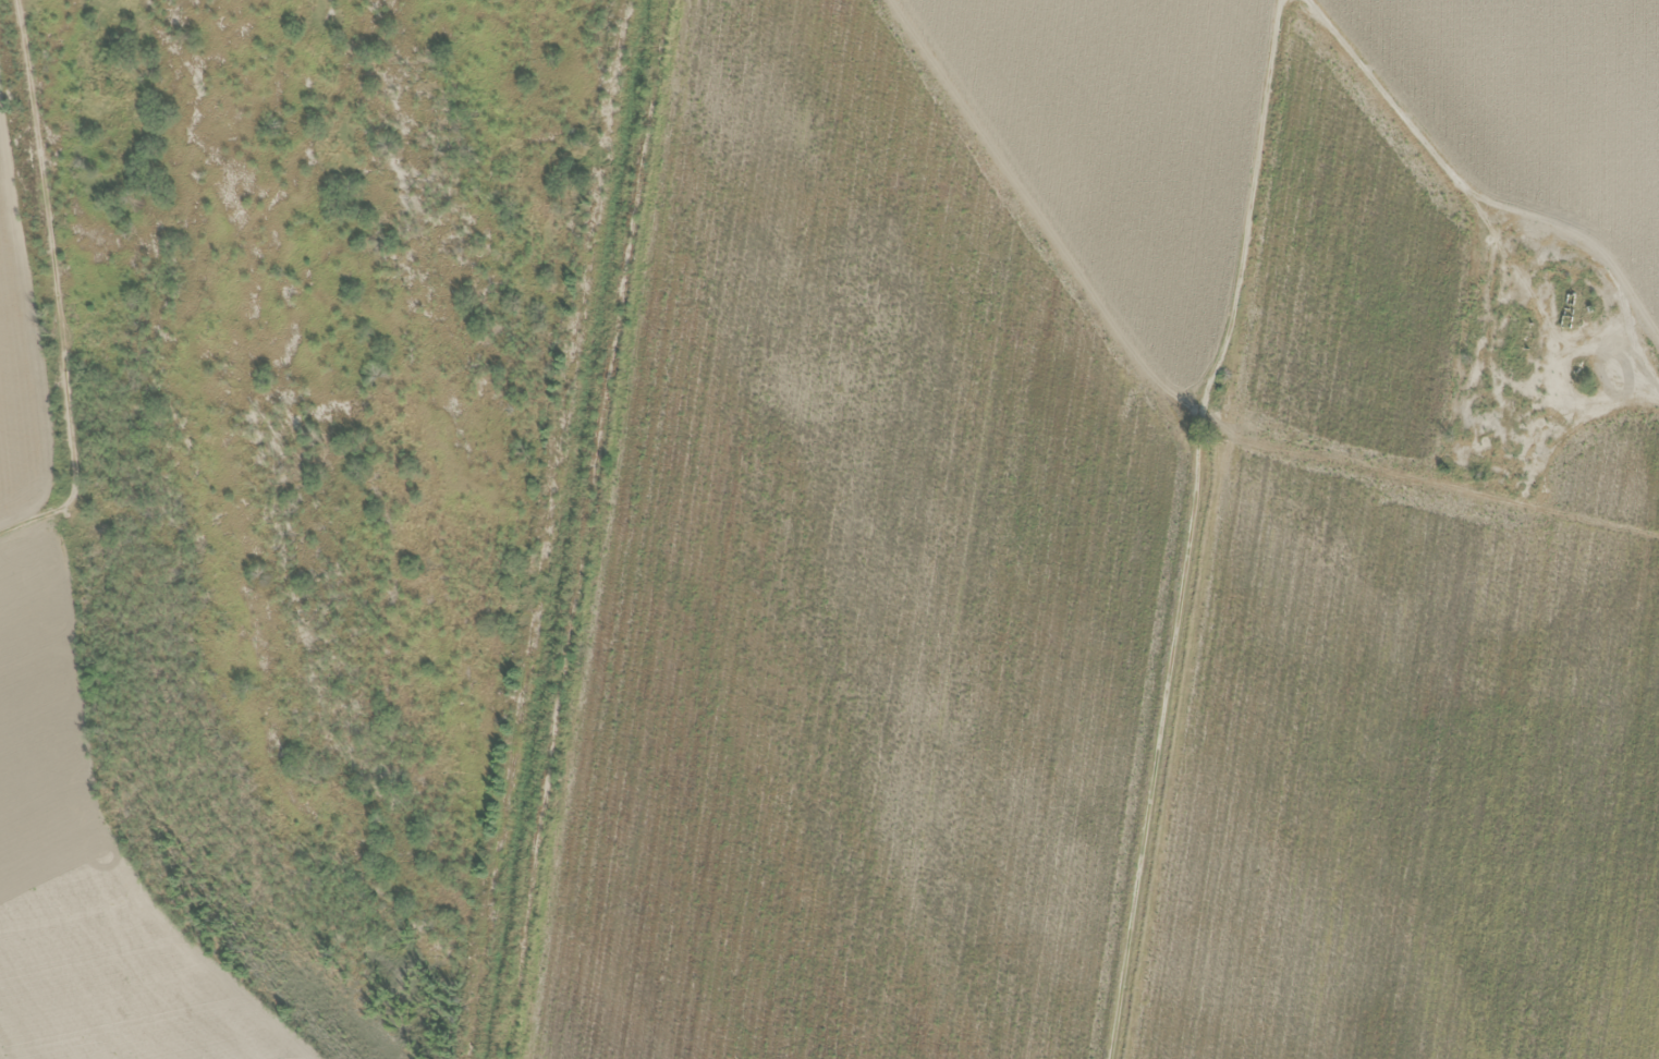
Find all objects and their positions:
road: (1499, 255)
road: (1191, 527)

